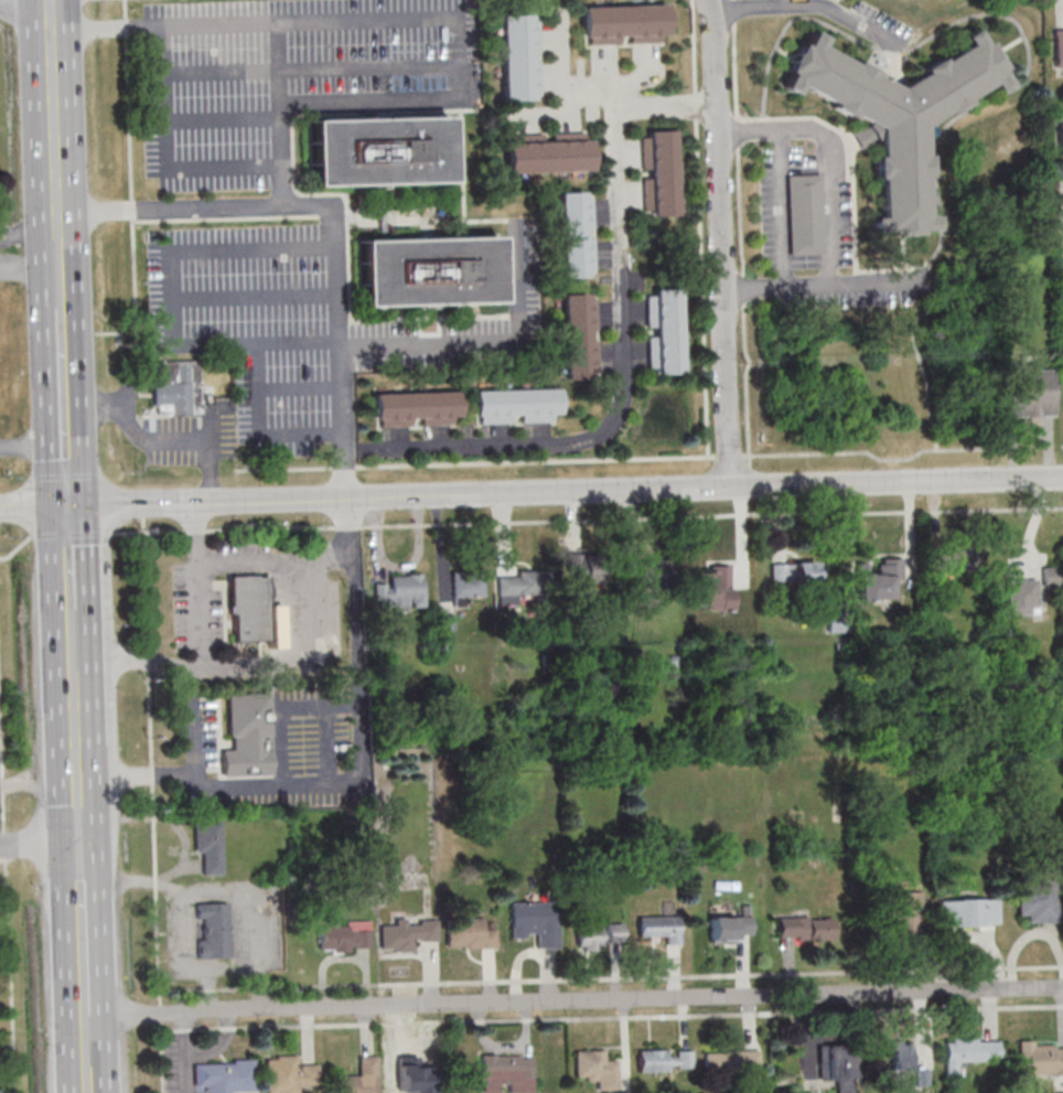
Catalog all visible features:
road: (1, 0)
road: (807, 6)
road: (379, 21)
building: (623, 24)
building: (1057, 46)
building: (519, 56)
road: (309, 71)
road: (127, 78)
road: (609, 93)
road: (277, 94)
building: (896, 116)
road: (221, 118)
road: (53, 122)
building: (1060, 144)
building: (378, 151)
building: (547, 152)
road: (835, 154)
road: (174, 168)
building: (657, 173)
parking lot: (268, 195)
road: (1059, 201)
road: (783, 211)
road: (333, 214)
building: (806, 215)
road: (1059, 222)
building: (576, 234)
road: (28, 236)
road: (1060, 242)
road: (722, 244)
road: (133, 249)
road: (29, 266)
building: (427, 271)
road: (58, 276)
road: (823, 289)
building: (1062, 291)
road: (254, 297)
building: (664, 331)
building: (579, 335)
road: (296, 342)
road: (172, 343)
road: (484, 344)
road: (297, 387)
road: (622, 387)
building: (175, 392)
building: (1030, 392)
building: (515, 405)
road: (64, 407)
building: (415, 408)
road: (1033, 428)
road: (162, 439)
road: (32, 442)
road: (1062, 446)
road: (531, 494)
traffic signals: (68, 506)
road: (590, 519)
road: (74, 534)
road: (15, 548)
road: (69, 556)
building: (958, 561)
road: (277, 562)
building: (588, 570)
building: (793, 572)
building: (1051, 577)
building: (879, 579)
building: (652, 582)
building: (516, 586)
building: (465, 587)
building: (710, 588)
building: (400, 592)
building: (1021, 597)
building: (248, 608)
road: (73, 634)
road: (198, 644)
road: (283, 661)
building: (247, 736)
road: (202, 748)
road: (77, 752)
road: (354, 776)
road: (39, 785)
traffic signals: (80, 844)
road: (40, 845)
building: (208, 845)
building: (1039, 902)
road: (8, 906)
building: (906, 912)
building: (968, 912)
building: (535, 922)
road: (83, 928)
building: (805, 928)
building: (659, 929)
building: (730, 929)
building: (213, 930)
building: (406, 933)
building: (470, 933)
building: (345, 935)
building: (598, 936)
road: (575, 1001)
road: (187, 1035)
road: (218, 1041)
road: (87, 1046)
building: (970, 1051)
building: (902, 1054)
building: (1040, 1058)
building: (665, 1060)
building: (836, 1067)
building: (737, 1068)
building: (597, 1069)
building: (506, 1073)
building: (225, 1075)
building: (290, 1075)
road: (187, 1076)
building: (361, 1078)
road: (89, 1085)

